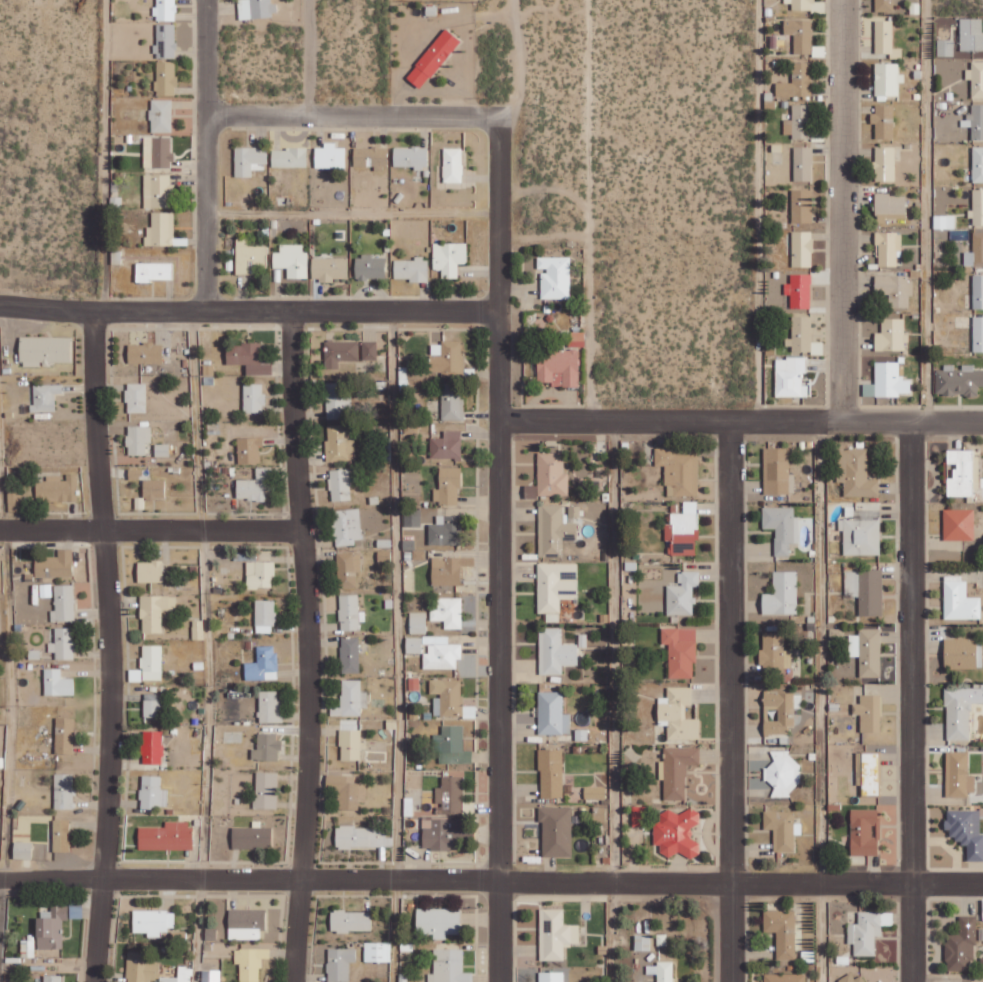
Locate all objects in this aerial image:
building: (804, 4)
building: (884, 5)
building: (255, 8)
building: (165, 10)
building: (800, 34)
building: (971, 34)
building: (886, 39)
building: (166, 41)
building: (945, 47)
road: (309, 57)
building: (433, 58)
building: (166, 78)
building: (976, 78)
building: (887, 80)
building: (797, 82)
building: (161, 115)
road: (350, 115)
building: (884, 121)
building: (975, 121)
building: (799, 122)
building: (157, 152)
building: (372, 154)
road: (106, 155)
road: (204, 155)
building: (330, 156)
building: (411, 156)
building: (289, 157)
building: (249, 159)
building: (884, 163)
building: (803, 164)
building: (977, 164)
building: (452, 165)
building: (156, 191)
building: (802, 206)
building: (890, 207)
building: (977, 207)
road: (352, 209)
road: (842, 211)
road: (926, 211)
building: (944, 221)
building: (160, 229)
building: (802, 249)
building: (888, 249)
building: (975, 251)
building: (248, 255)
building: (449, 258)
building: (292, 260)
building: (370, 267)
building: (330, 268)
building: (411, 269)
building: (156, 270)
building: (555, 277)
building: (895, 289)
building: (799, 290)
building: (978, 291)
road: (250, 310)
building: (978, 333)
building: (800, 334)
building: (891, 335)
building: (577, 339)
building: (45, 350)
building: (369, 350)
building: (341, 351)
building: (145, 353)
building: (444, 354)
building: (249, 358)
building: (559, 366)
building: (791, 377)
building: (958, 380)
building: (888, 381)
building: (45, 397)
building: (136, 397)
building: (253, 398)
building: (338, 400)
building: (451, 402)
road: (297, 419)
road: (741, 423)
building: (138, 439)
building: (339, 444)
building: (447, 445)
building: (249, 449)
building: (164, 450)
building: (776, 471)
building: (679, 472)
building: (855, 473)
building: (134, 474)
building: (552, 474)
building: (340, 485)
building: (253, 486)
building: (448, 486)
building: (57, 488)
building: (154, 489)
building: (13, 501)
building: (959, 524)
building: (347, 526)
building: (782, 528)
building: (556, 529)
road: (202, 530)
building: (683, 530)
road: (51, 531)
building: (446, 531)
building: (861, 532)
road: (499, 548)
building: (44, 567)
building: (348, 569)
building: (449, 569)
building: (150, 572)
building: (260, 575)
building: (556, 587)
building: (866, 590)
building: (683, 594)
building: (782, 594)
building: (960, 601)
building: (64, 604)
building: (153, 612)
building: (448, 612)
building: (350, 613)
building: (265, 616)
building: (418, 622)
building: (63, 643)
building: (414, 644)
road: (102, 645)
road: (207, 646)
road: (393, 646)
building: (681, 651)
building: (774, 651)
building: (556, 652)
building: (867, 652)
building: (963, 653)
building: (350, 655)
building: (151, 662)
building: (263, 665)
building: (57, 683)
building: (414, 684)
building: (448, 696)
building: (351, 699)
road: (611, 702)
road: (731, 702)
road: (820, 702)
road: (910, 702)
building: (152, 705)
building: (270, 707)
building: (961, 710)
building: (781, 712)
building: (869, 713)
building: (552, 714)
building: (678, 714)
road: (8, 716)
building: (64, 735)
building: (350, 745)
building: (451, 745)
building: (152, 747)
building: (267, 747)
road: (307, 755)
building: (677, 771)
building: (551, 773)
building: (868, 773)
building: (782, 774)
building: (958, 775)
building: (266, 790)
building: (63, 791)
building: (347, 791)
building: (152, 793)
building: (595, 793)
building: (450, 796)
building: (600, 814)
building: (639, 816)
building: (782, 829)
building: (556, 831)
building: (966, 831)
building: (865, 832)
building: (677, 833)
building: (61, 835)
building: (437, 835)
building: (166, 837)
building: (252, 837)
building: (362, 838)
building: (22, 850)
road: (491, 881)
building: (350, 921)
building: (153, 922)
building: (438, 922)
building: (246, 924)
building: (51, 928)
building: (782, 932)
building: (865, 933)
building: (555, 934)
building: (642, 943)
building: (962, 945)
building: (377, 952)
building: (249, 963)
building: (339, 964)
building: (449, 967)
building: (662, 971)
building: (212, 976)
building: (551, 977)
building: (52, 978)
building: (786, 978)
building: (856, 979)
road: (948, 979)

